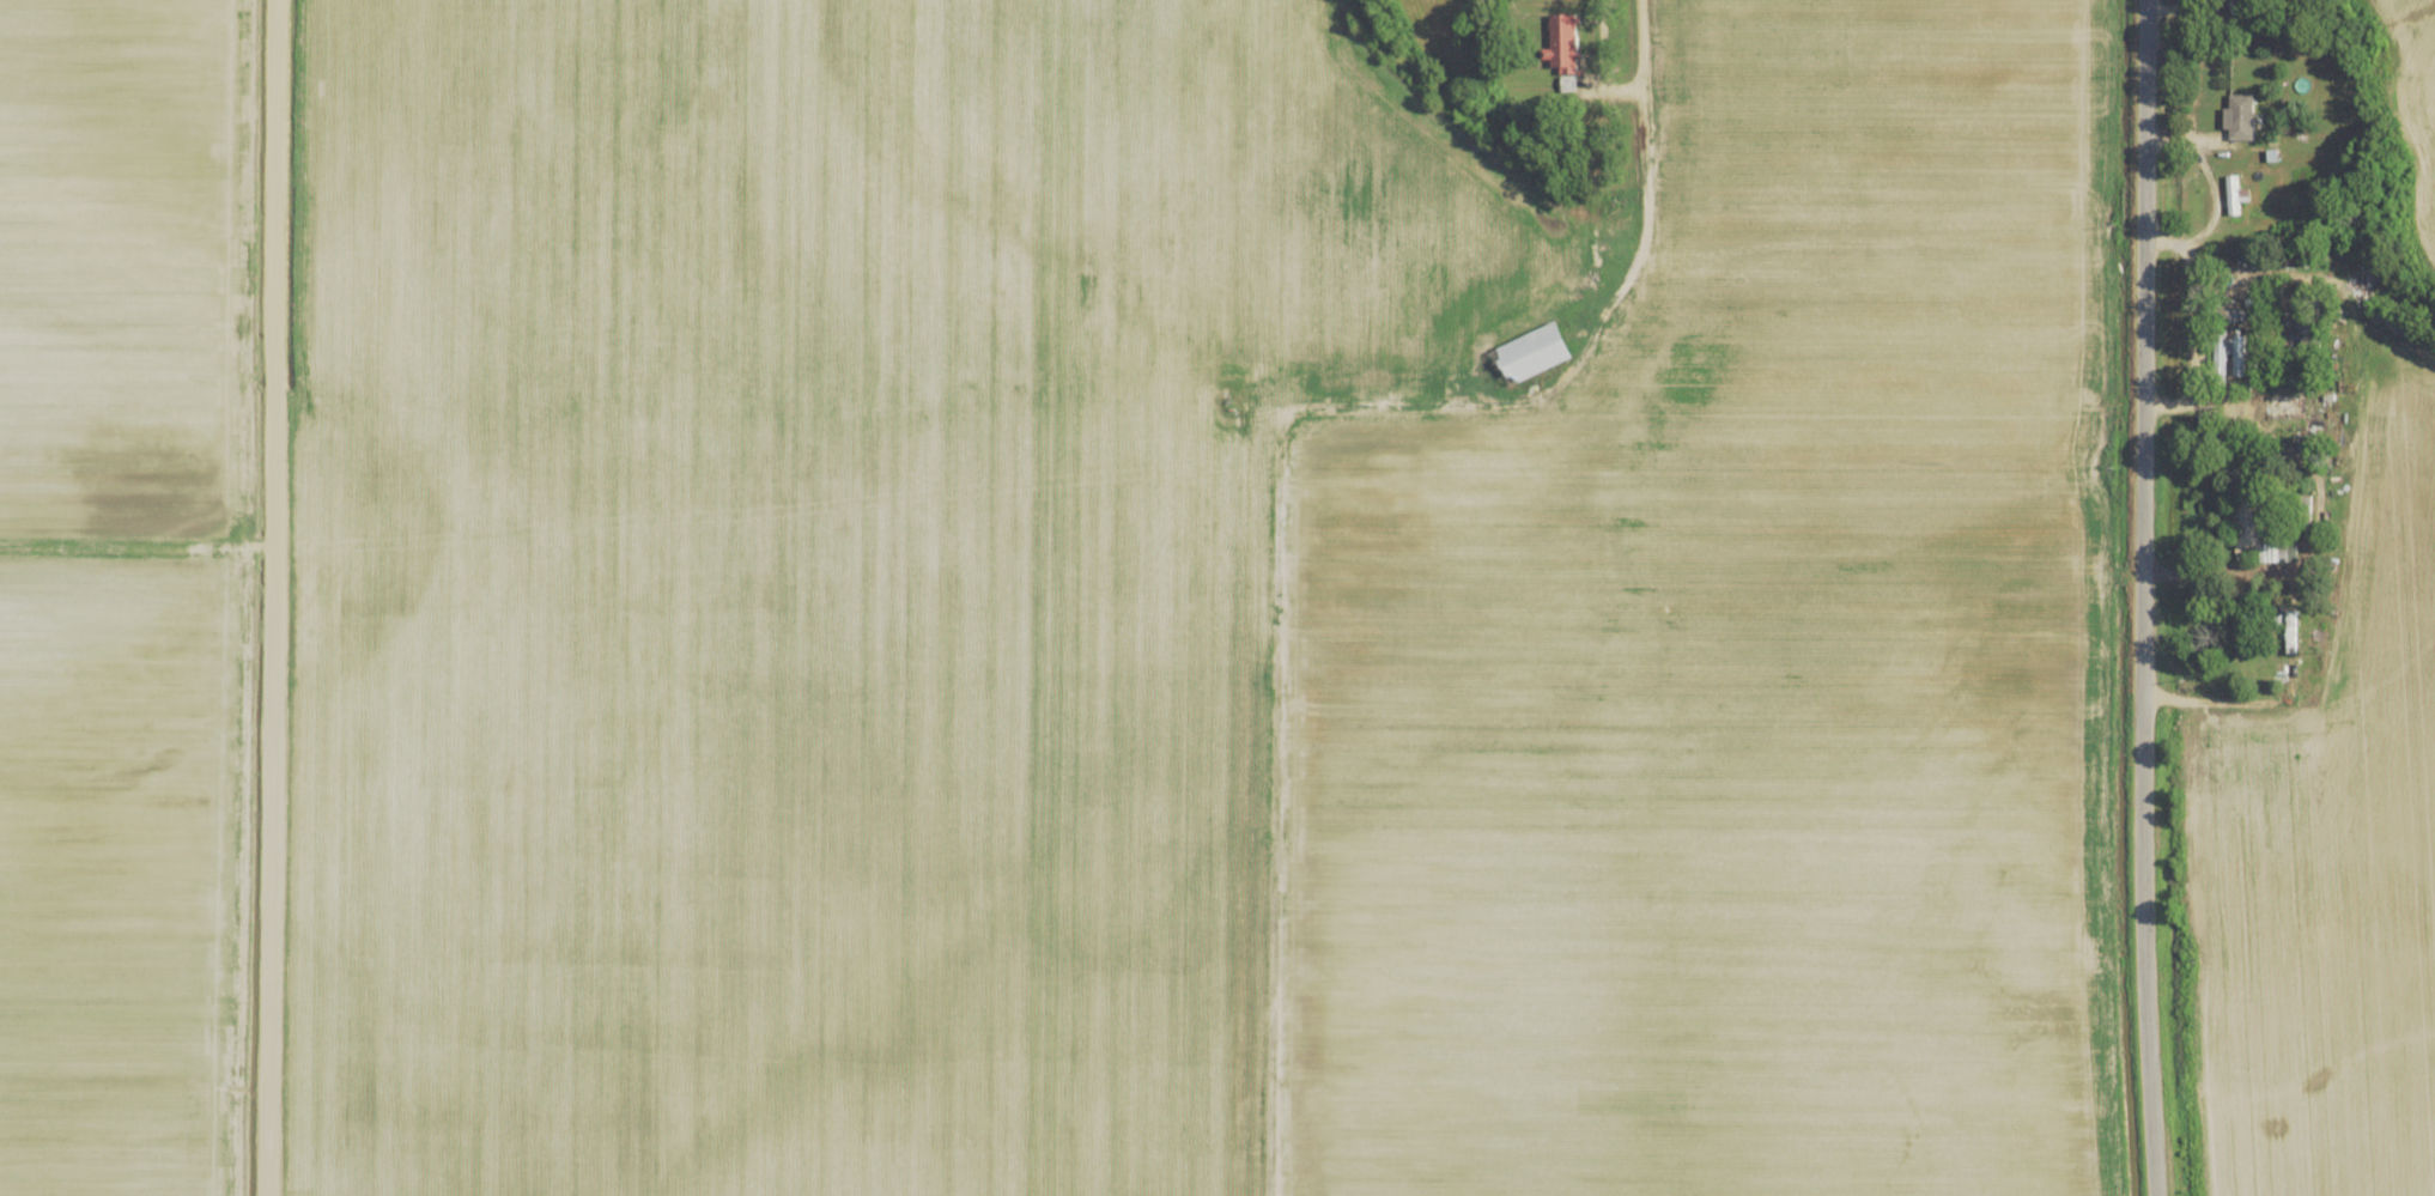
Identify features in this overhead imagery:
building: (1563, 44)
building: (2291, 63)
building: (2241, 111)
building: (2233, 201)
road: (2193, 298)
building: (2239, 317)
building: (2308, 332)
building: (1530, 354)
road: (2141, 372)
road: (2202, 402)
building: (2289, 407)
road: (1277, 463)
building: (2257, 529)
road: (135, 545)
road: (2199, 569)
road: (271, 597)
building: (2245, 636)
building: (2308, 642)
road: (2143, 971)

